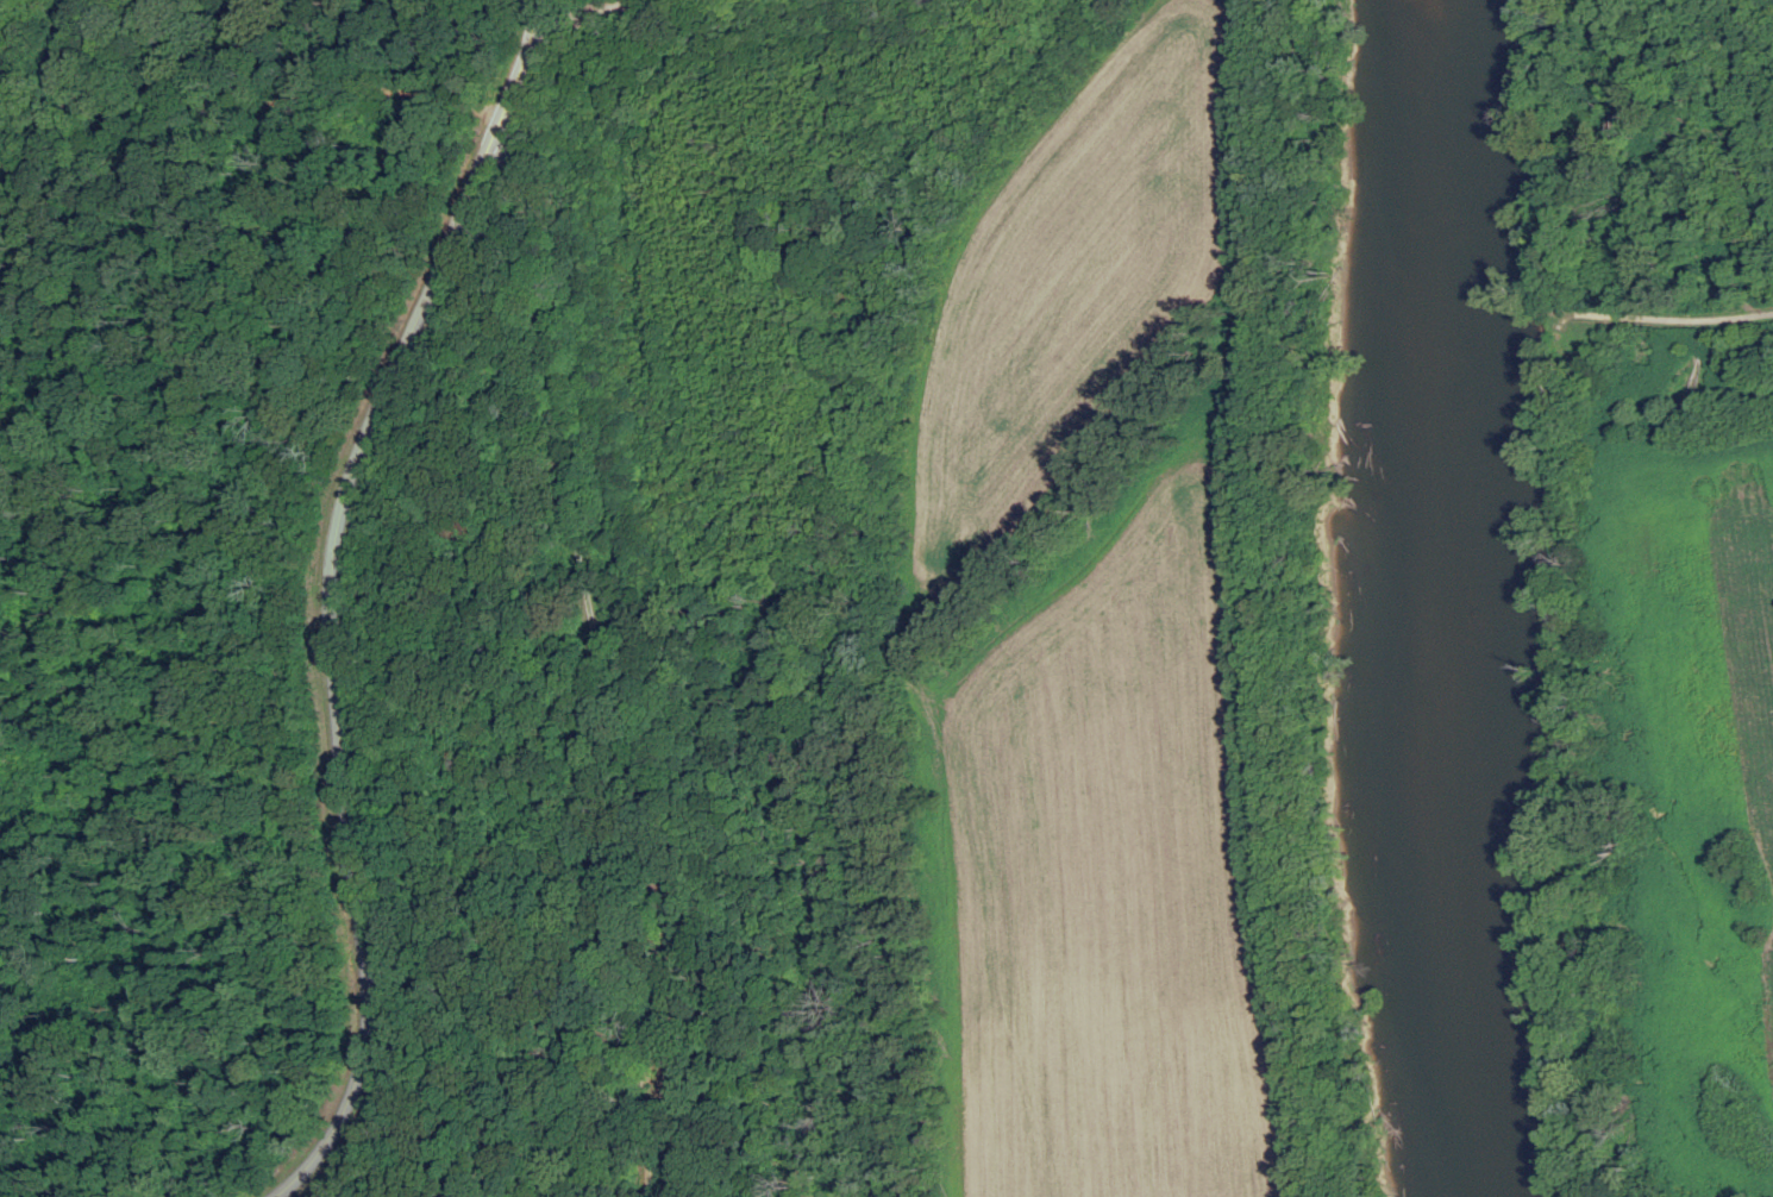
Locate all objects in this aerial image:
road: (591, 13)
road: (249, 107)
road: (1677, 315)
road: (325, 595)
road: (595, 595)
river: (1430, 598)

